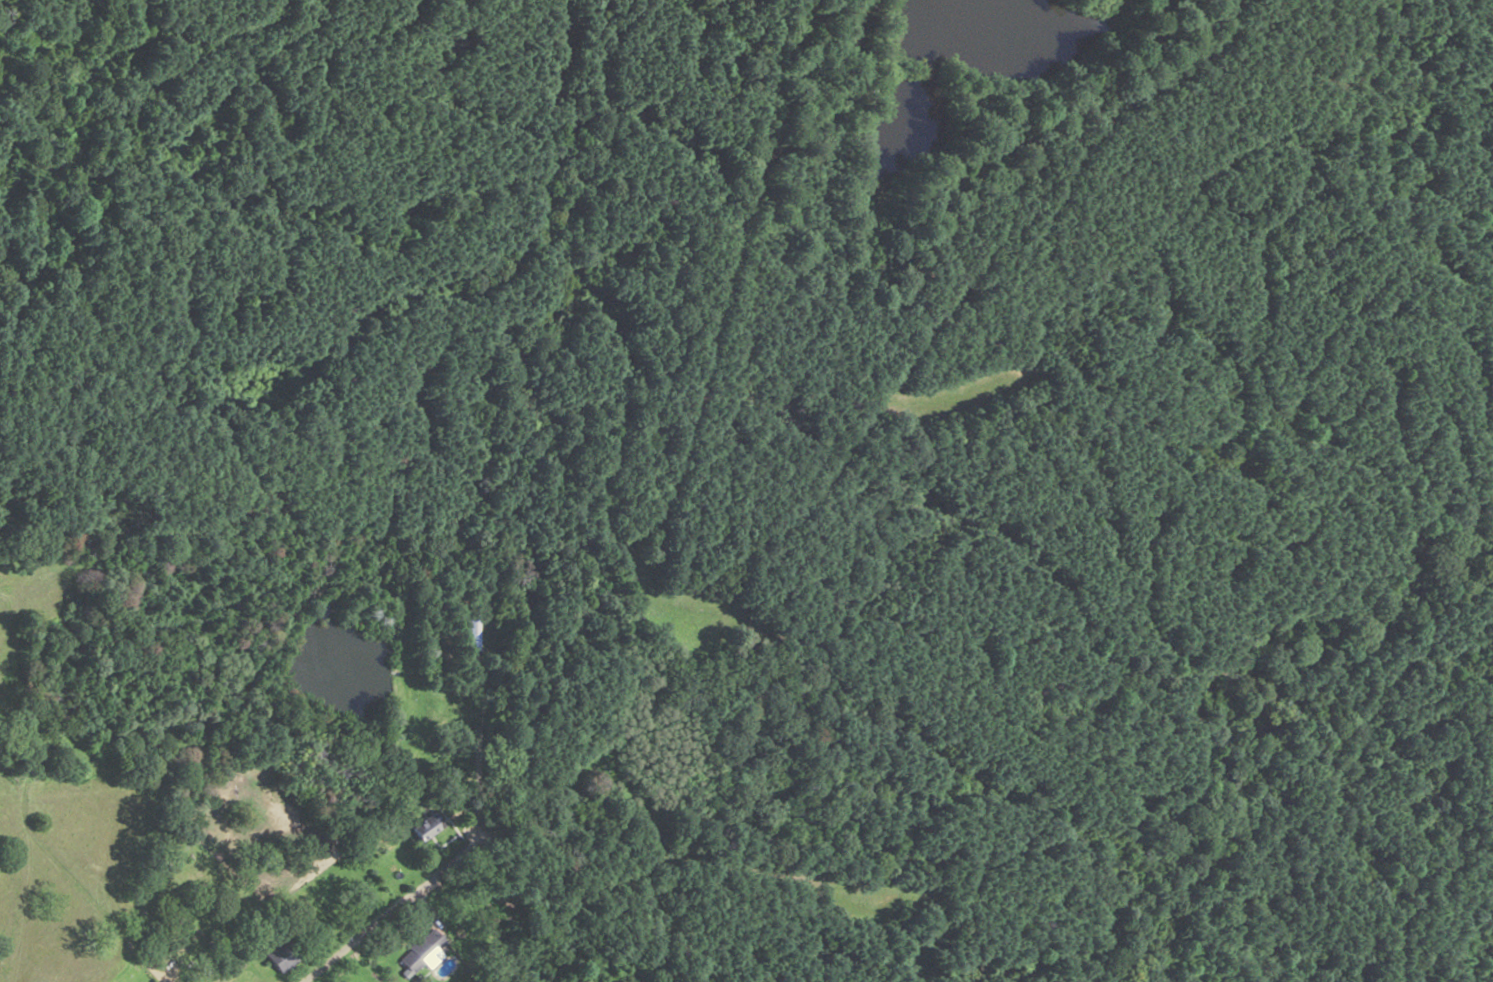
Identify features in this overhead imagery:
building: (471, 631)
building: (428, 826)
building: (422, 950)
building: (281, 956)

